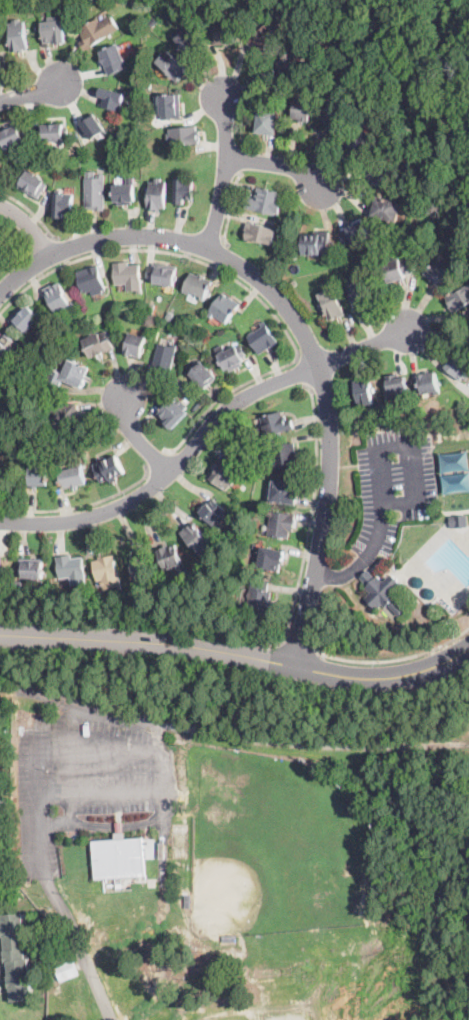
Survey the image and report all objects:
building: (54, 30)
building: (97, 30)
building: (224, 33)
building: (18, 35)
building: (264, 39)
building: (186, 40)
building: (112, 59)
building: (171, 64)
building: (292, 65)
road: (37, 92)
building: (112, 98)
building: (170, 106)
building: (303, 110)
building: (333, 111)
building: (266, 121)
building: (92, 125)
building: (54, 132)
building: (12, 135)
building: (183, 135)
building: (360, 140)
building: (35, 146)
building: (132, 146)
road: (277, 165)
building: (381, 170)
road: (224, 171)
building: (33, 183)
building: (183, 190)
building: (95, 191)
building: (125, 191)
building: (156, 194)
building: (265, 201)
building: (62, 203)
building: (387, 208)
road: (31, 210)
road: (230, 210)
road: (30, 224)
building: (288, 224)
building: (261, 231)
building: (354, 233)
building: (316, 242)
building: (2, 245)
road: (62, 249)
road: (221, 254)
building: (397, 268)
building: (440, 269)
building: (164, 273)
building: (128, 276)
building: (90, 279)
road: (238, 280)
building: (294, 282)
building: (199, 285)
building: (361, 292)
building: (58, 299)
building: (459, 299)
building: (332, 303)
building: (150, 307)
building: (224, 307)
building: (169, 314)
building: (25, 319)
road: (300, 327)
building: (263, 338)
building: (98, 343)
building: (135, 344)
building: (7, 350)
building: (232, 357)
building: (164, 360)
building: (459, 363)
road: (306, 371)
building: (69, 373)
building: (203, 375)
building: (428, 382)
building: (3, 386)
building: (394, 386)
building: (363, 391)
building: (172, 410)
building: (3, 415)
building: (67, 415)
building: (274, 425)
road: (203, 431)
road: (136, 434)
road: (378, 447)
building: (0, 455)
building: (285, 455)
road: (158, 460)
building: (108, 467)
building: (225, 472)
building: (37, 474)
building: (72, 477)
parking lot: (391, 484)
building: (284, 491)
road: (83, 506)
building: (214, 513)
building: (461, 520)
building: (281, 523)
building: (196, 538)
building: (170, 558)
building: (270, 558)
building: (33, 569)
building: (71, 569)
building: (0, 572)
building: (140, 572)
road: (340, 574)
building: (108, 575)
building: (17, 585)
building: (382, 591)
building: (259, 598)
road: (273, 642)
road: (300, 644)
road: (237, 653)
road: (394, 659)
parking lot: (91, 770)
road: (152, 791)
road: (39, 801)
road: (69, 808)
road: (114, 824)
park: (274, 844)
building: (118, 856)
building: (188, 900)
building: (229, 937)
road: (82, 946)
building: (16, 955)
building: (66, 970)
park: (294, 1015)
park: (273, 1016)
park: (236, 1019)

